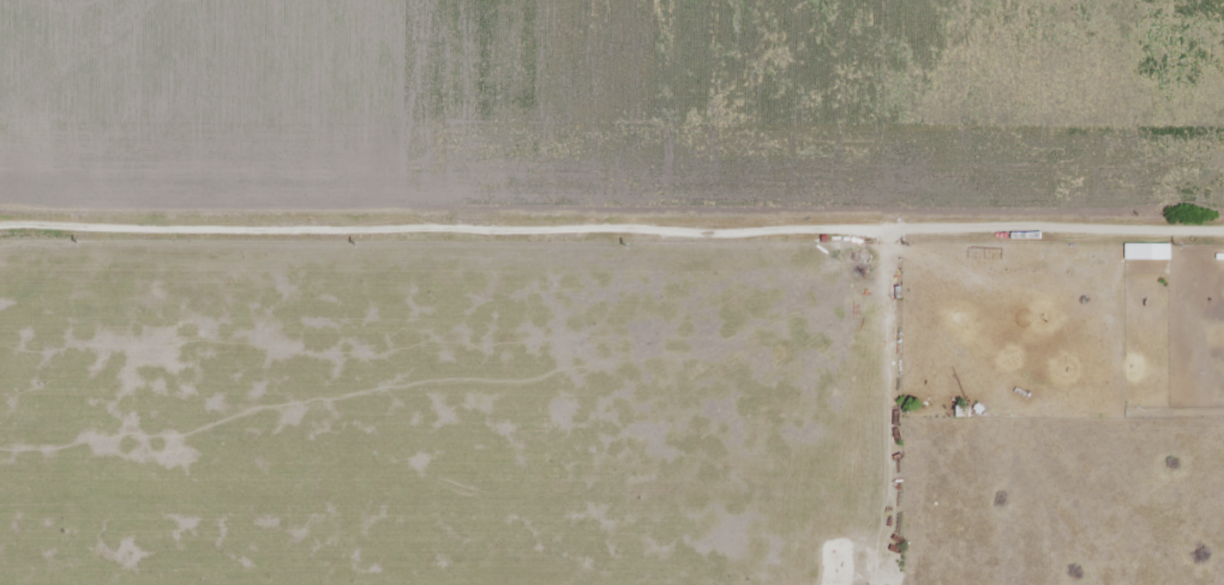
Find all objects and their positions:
road: (692, 204)
road: (82, 223)
power tower: (73, 241)
power tower: (348, 242)
power tower: (1172, 243)
power tower: (618, 245)
power tower: (900, 246)
building: (976, 255)

